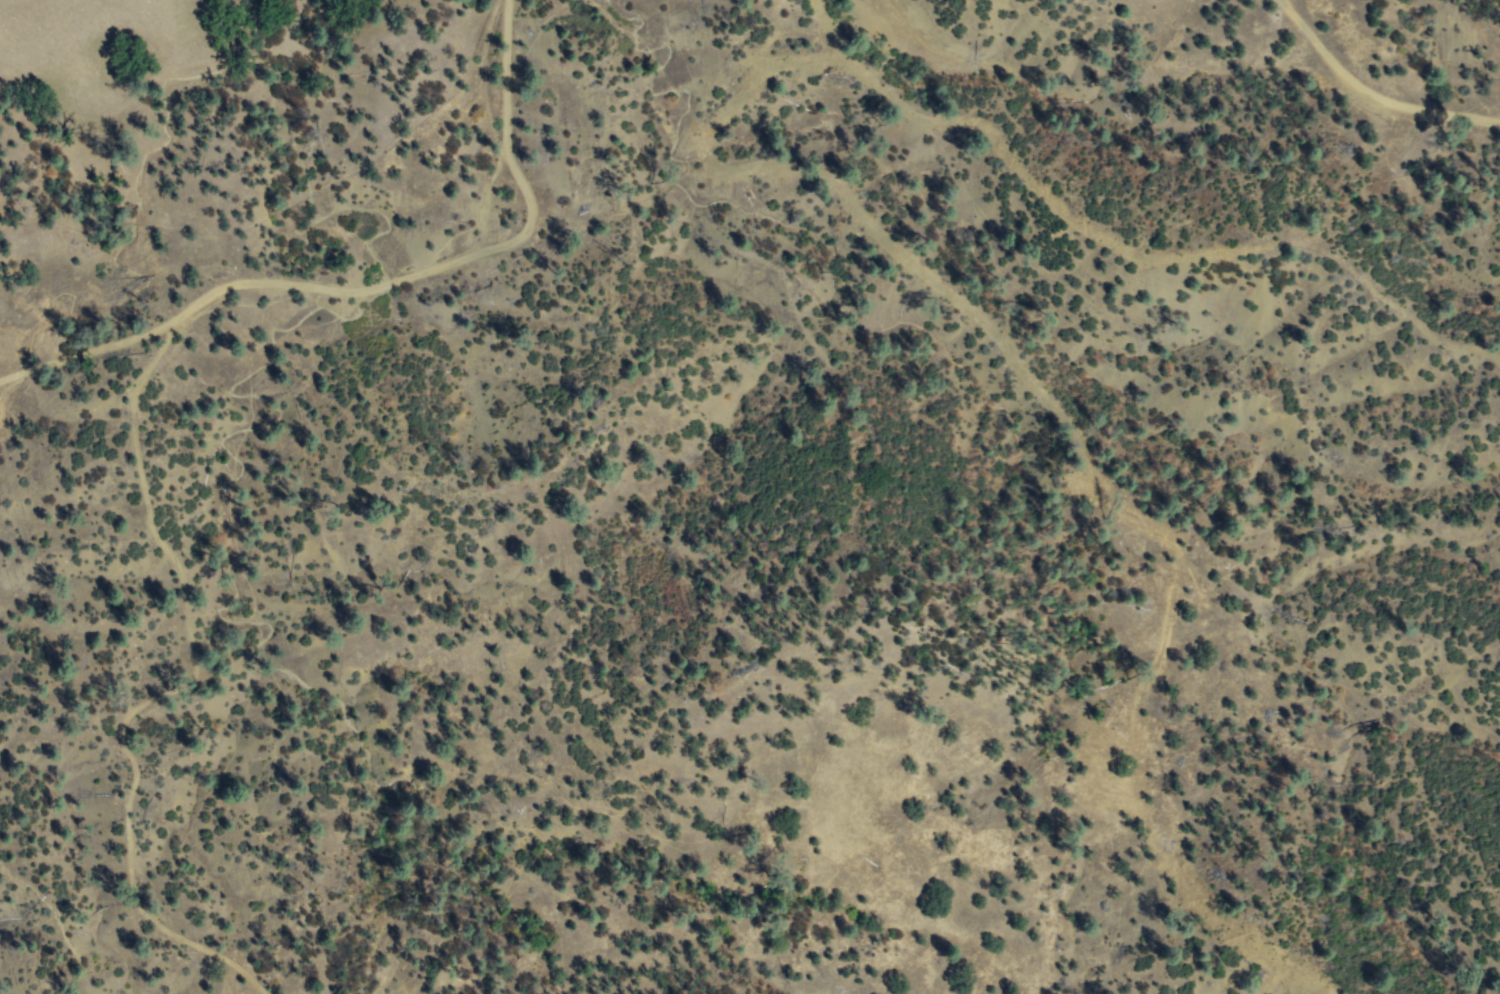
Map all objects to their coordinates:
road: (1378, 91)
road: (269, 262)

